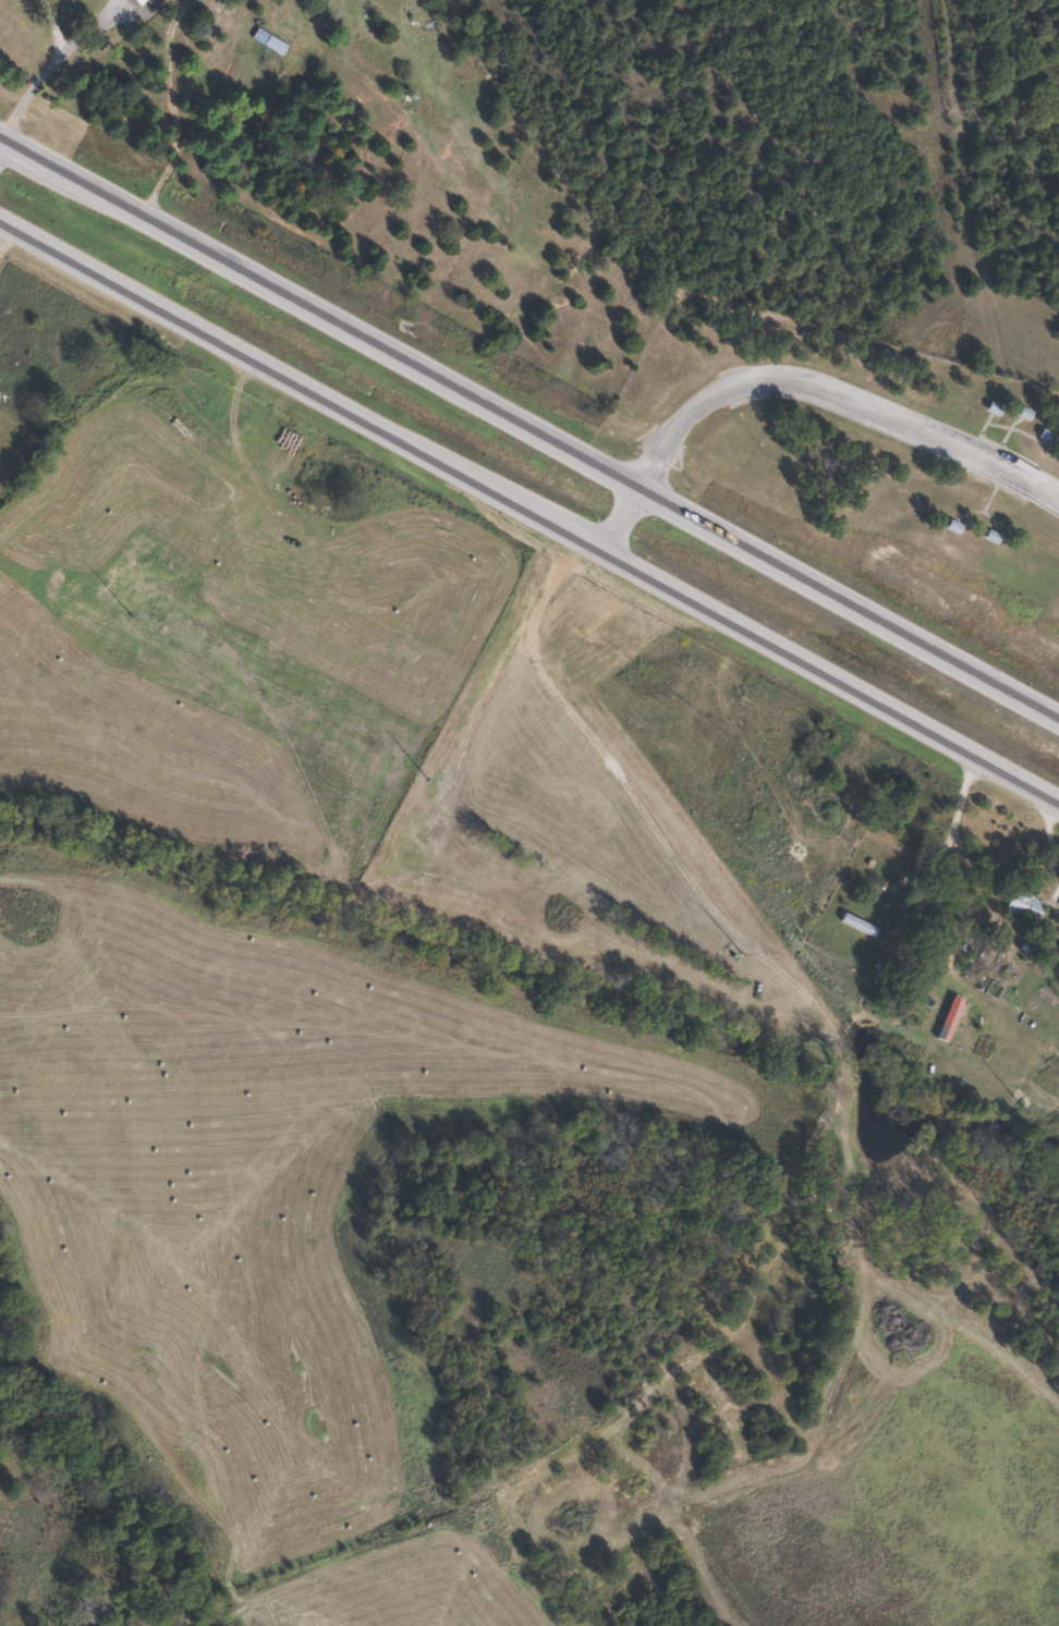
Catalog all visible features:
building: (113, 2)
road: (46, 74)
road: (831, 391)
building: (1020, 413)
road: (528, 436)
road: (527, 518)
road: (614, 524)
building: (1022, 905)
building: (856, 925)

